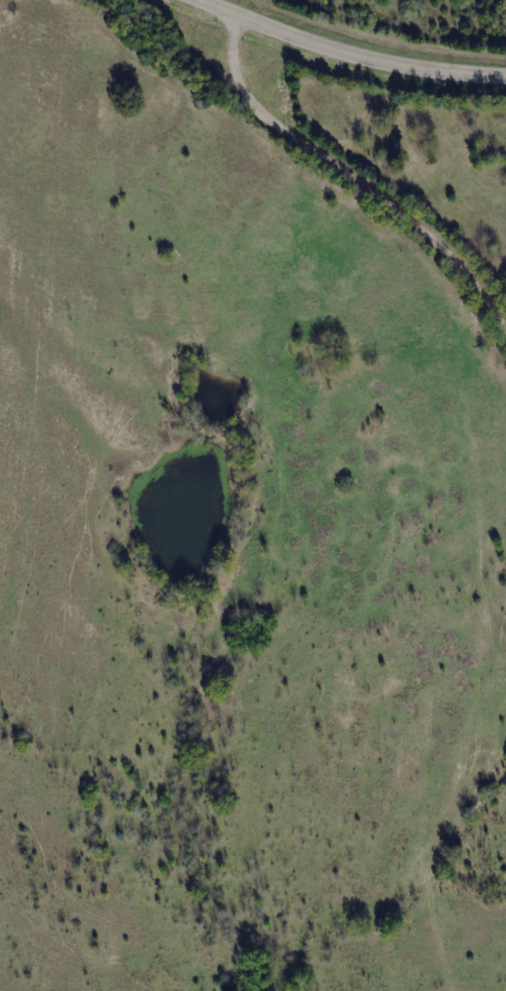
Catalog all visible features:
road: (358, 50)
road: (320, 191)

